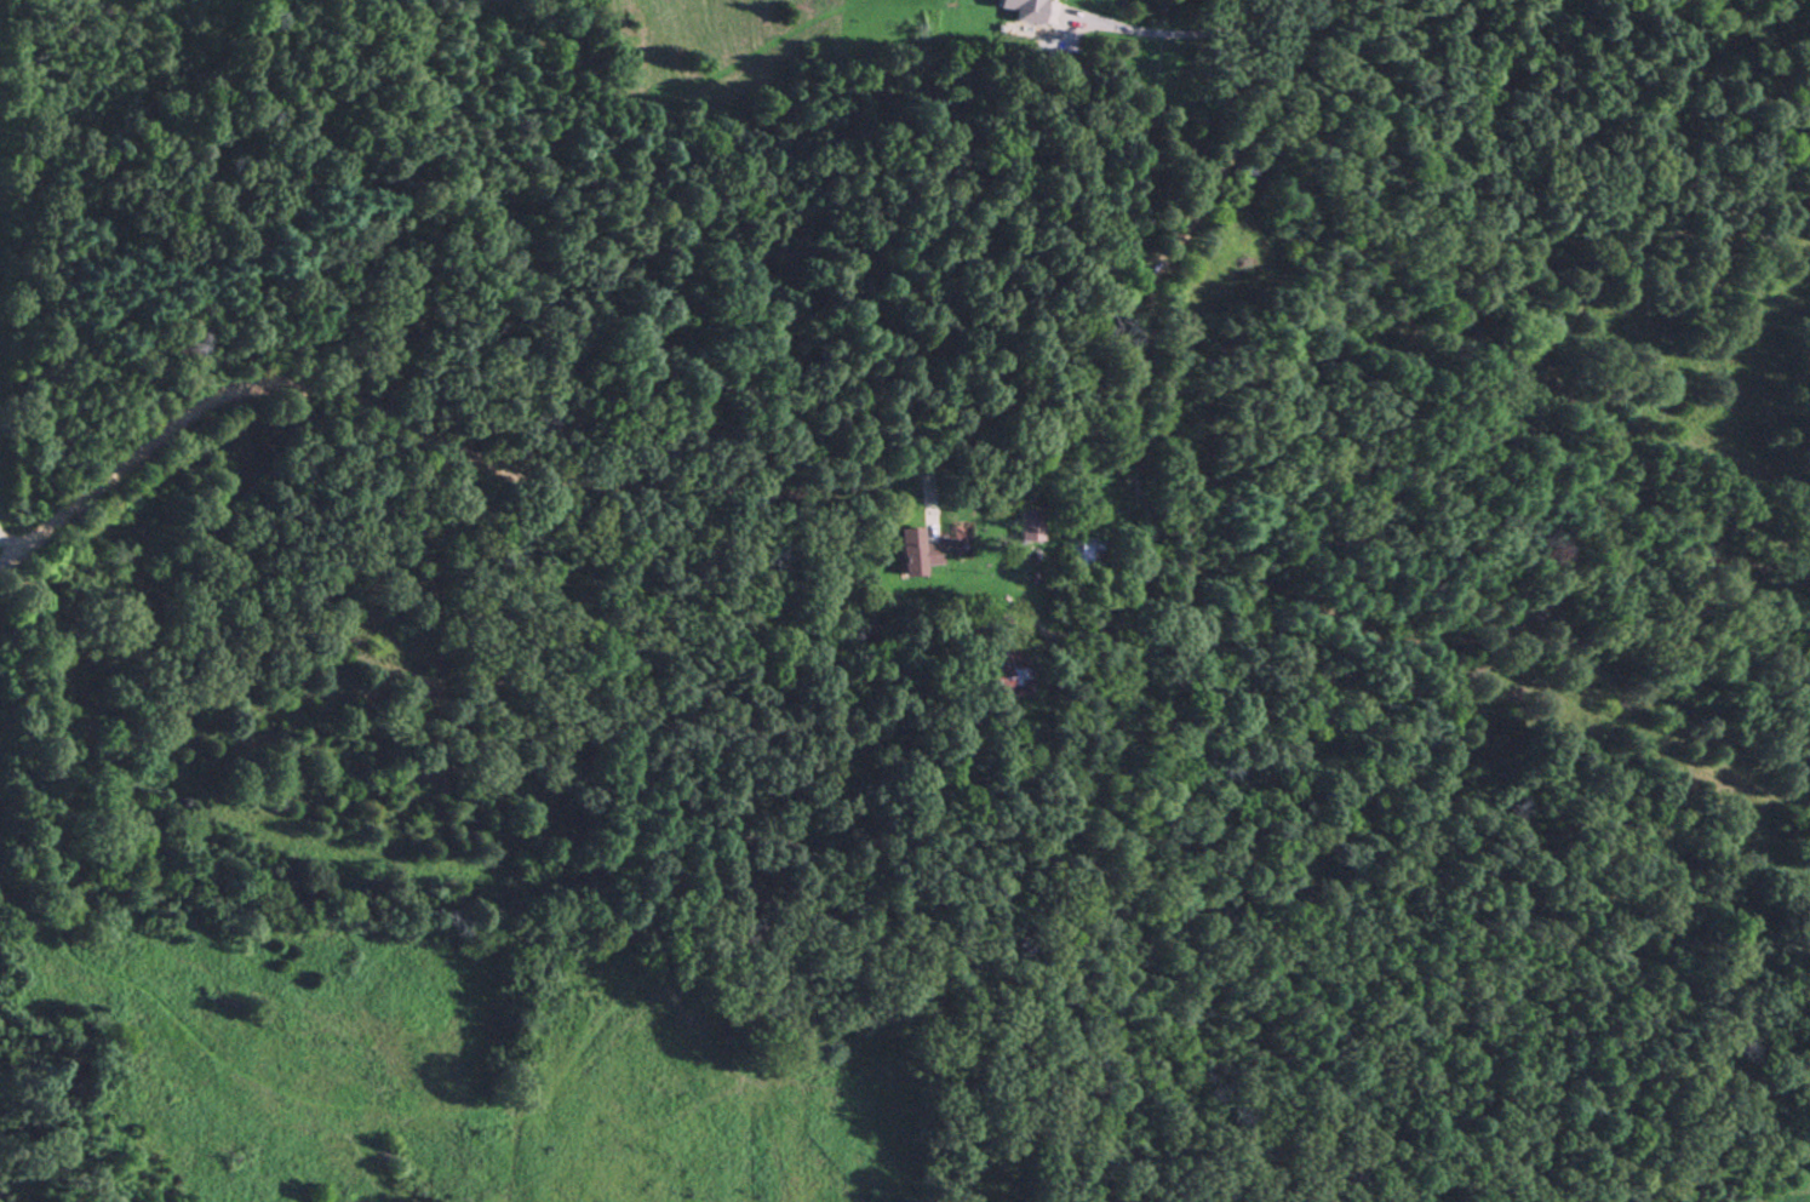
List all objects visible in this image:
road: (1133, 396)
road: (733, 496)
building: (1031, 522)
building: (1084, 549)
building: (915, 551)
road: (1024, 617)
building: (1002, 666)

